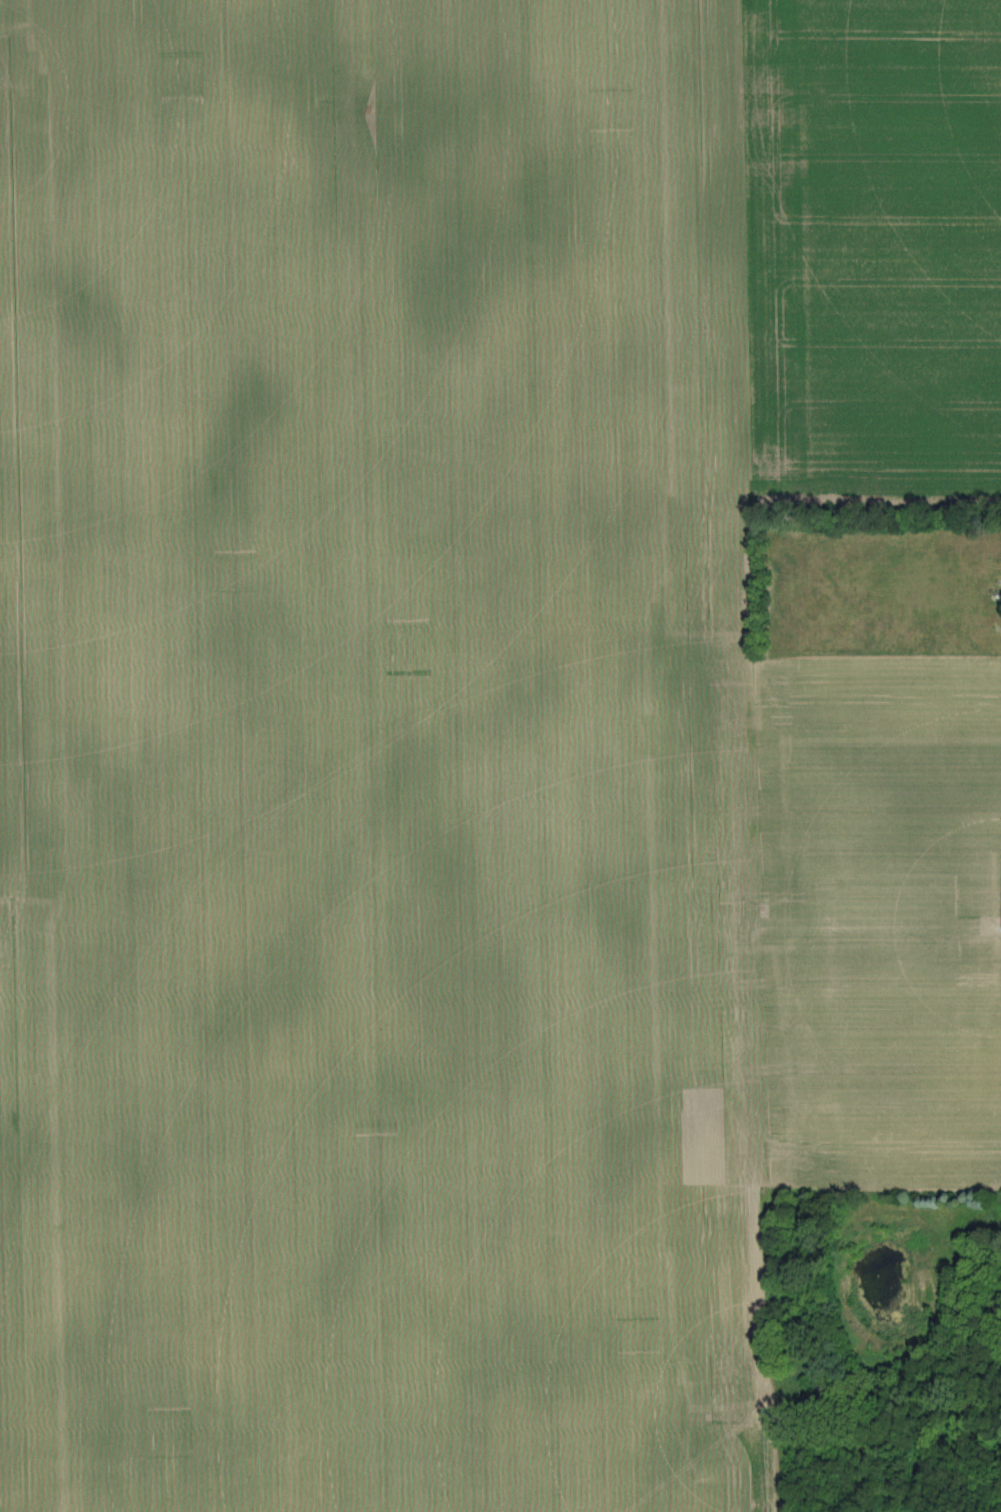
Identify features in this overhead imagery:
crop: (870, 261)
crop: (427, 778)

